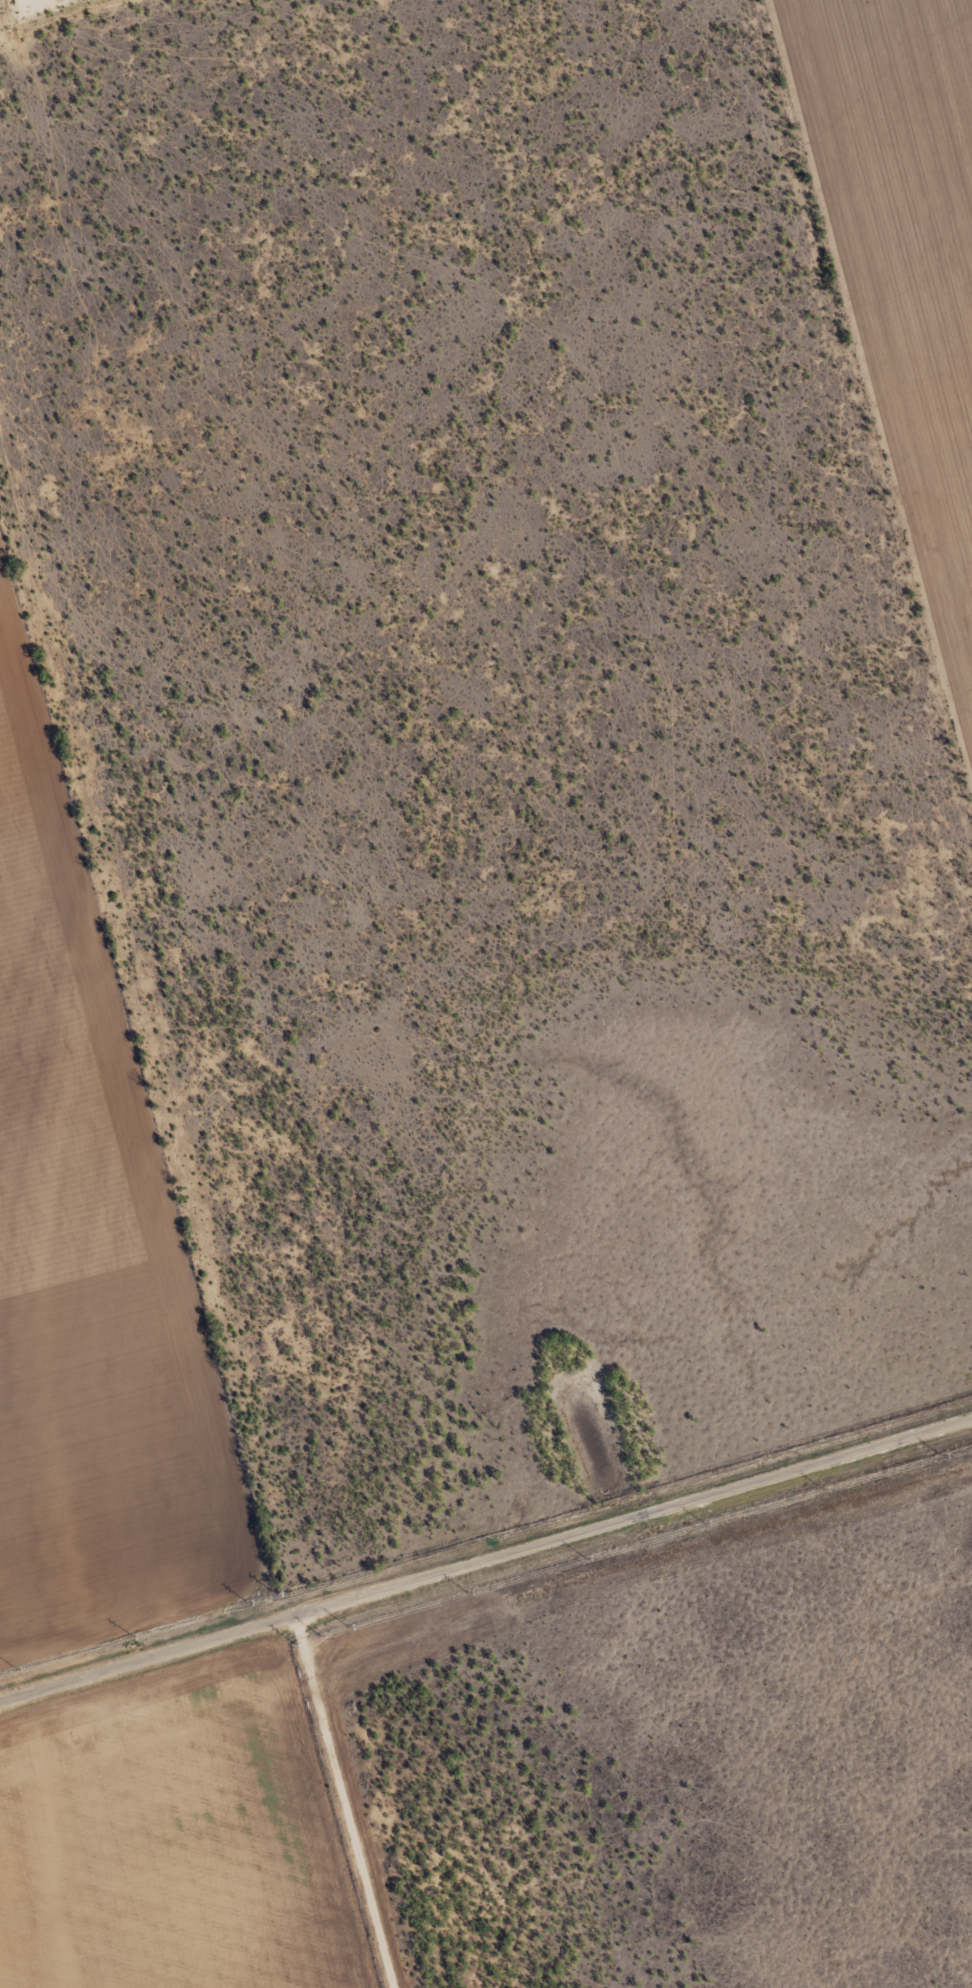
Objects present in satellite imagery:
road: (483, 1542)

